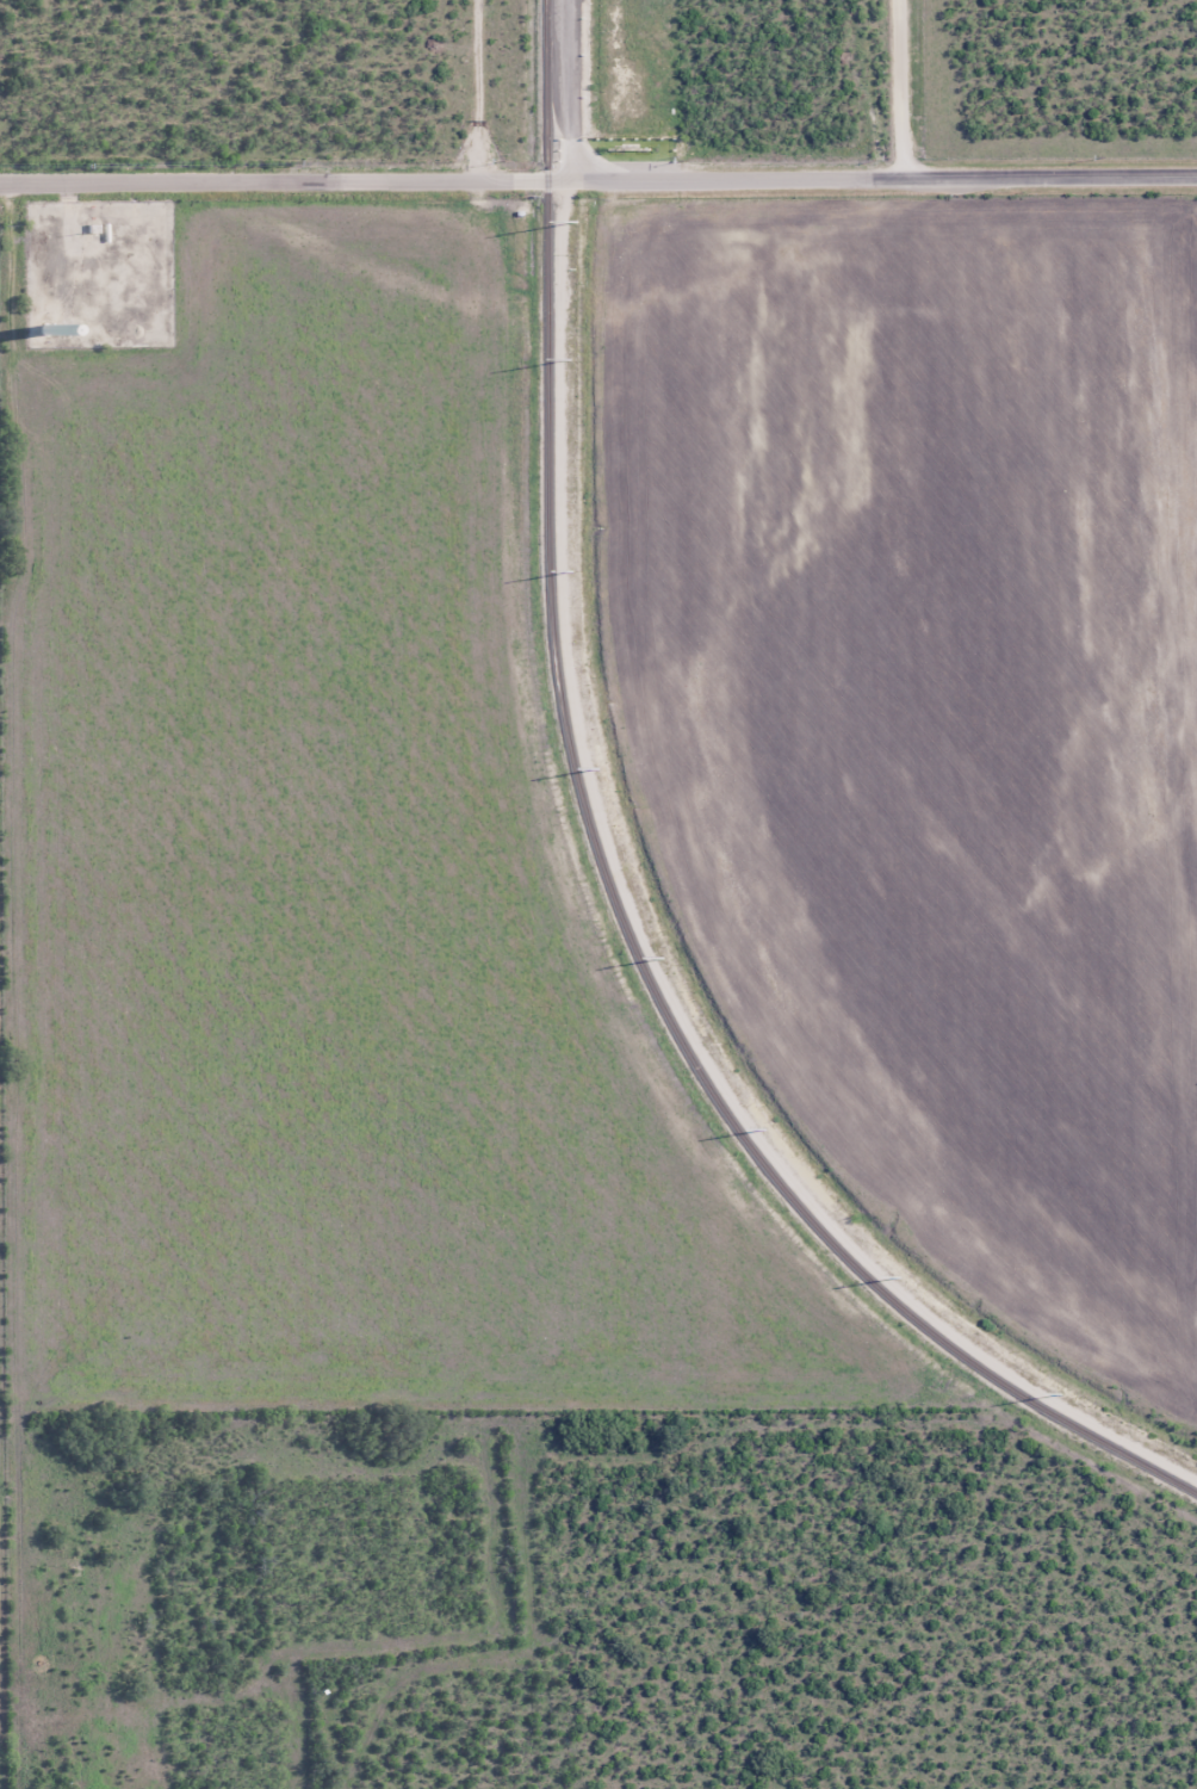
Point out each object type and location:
road: (904, 87)
road: (938, 88)
road: (568, 89)
road: (1086, 175)
road: (941, 177)
road: (453, 180)
power tower: (577, 221)
power tower: (572, 360)
power tower: (573, 571)
power tower: (600, 769)
railway: (608, 873)
power tower: (664, 958)
road: (20, 990)
power tower: (767, 1131)
power tower: (901, 1279)
power tower: (1062, 1394)

